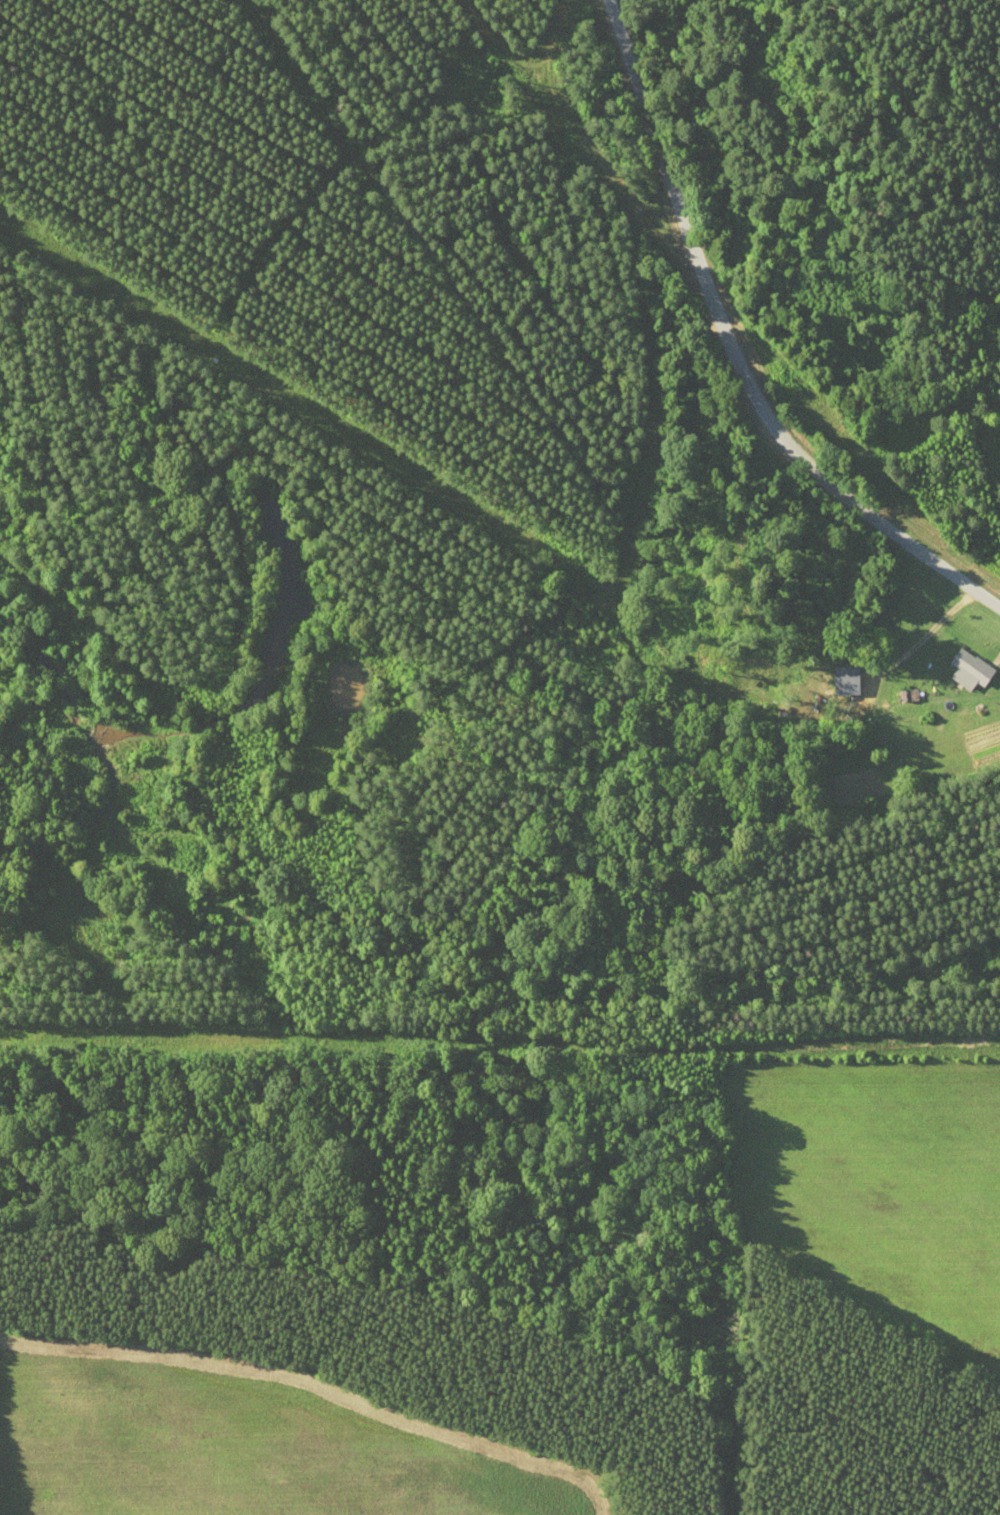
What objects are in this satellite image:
road: (722, 357)
building: (967, 666)
building: (859, 689)

